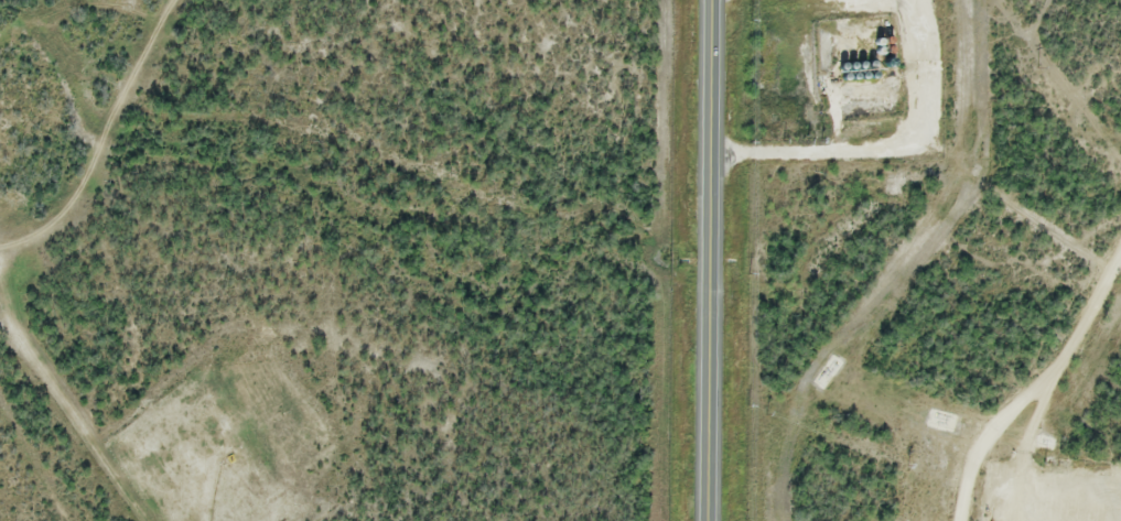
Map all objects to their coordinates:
power tower: (1038, 67)
road: (891, 149)
road: (708, 260)
road: (1045, 394)
road: (1020, 454)
road: (179, 477)

